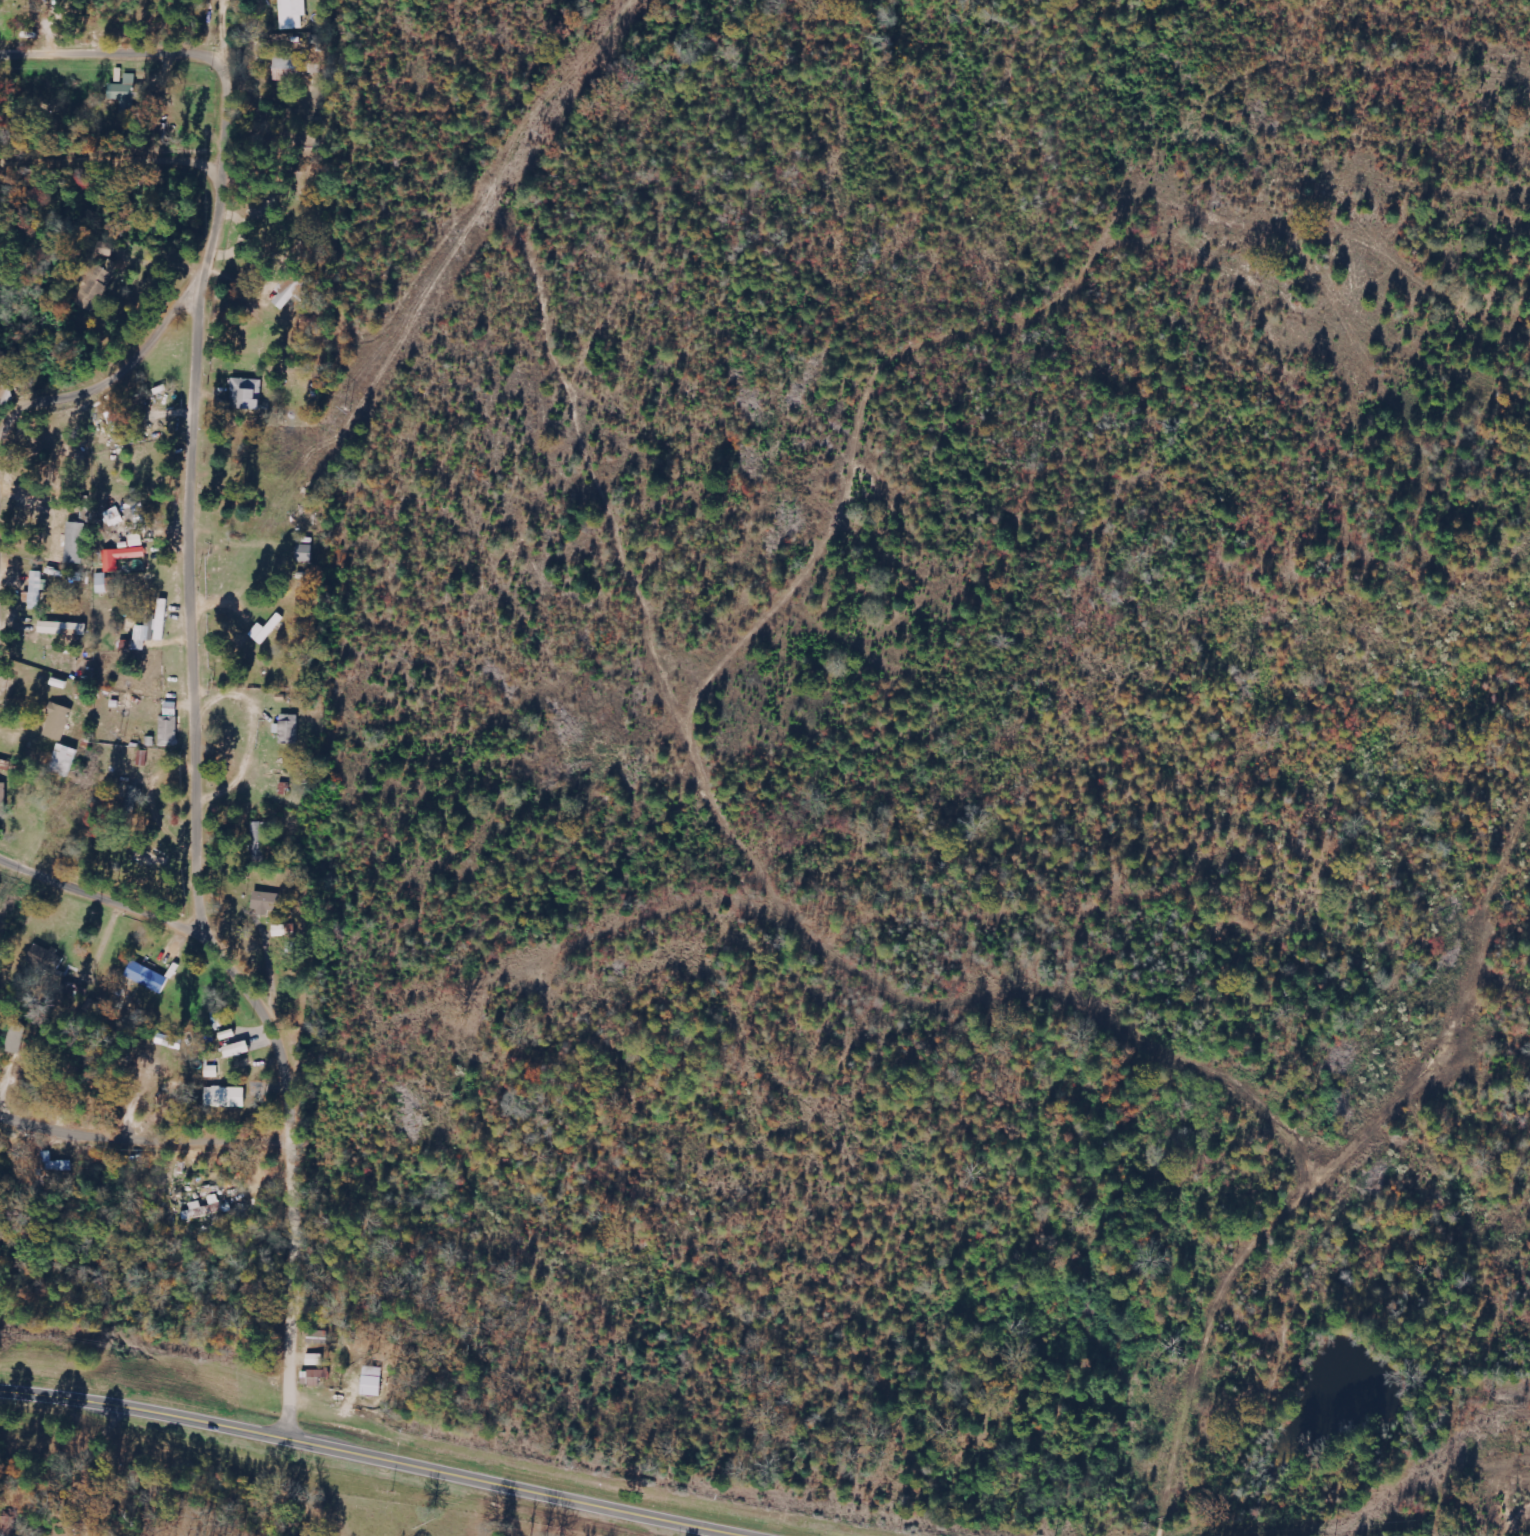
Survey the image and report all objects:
building: (293, 14)
road: (171, 57)
building: (125, 93)
power tower: (544, 134)
road: (116, 166)
road: (227, 220)
building: (292, 290)
road: (1136, 388)
building: (249, 392)
power tower: (349, 412)
road: (18, 433)
building: (69, 464)
building: (115, 517)
building: (134, 542)
building: (306, 553)
building: (122, 557)
building: (103, 583)
building: (38, 589)
road: (202, 719)
building: (59, 722)
building: (171, 726)
building: (289, 728)
power tower: (123, 738)
building: (144, 758)
building: (64, 760)
building: (3, 799)
road: (110, 898)
building: (266, 903)
building: (285, 931)
building: (148, 977)
building: (19, 1040)
building: (238, 1050)
building: (212, 1072)
road: (1059, 1077)
building: (226, 1097)
road: (1390, 1135)
road: (148, 1143)
building: (207, 1209)
road: (299, 1290)
building: (316, 1360)
building: (314, 1377)
building: (373, 1381)
road: (390, 1455)

